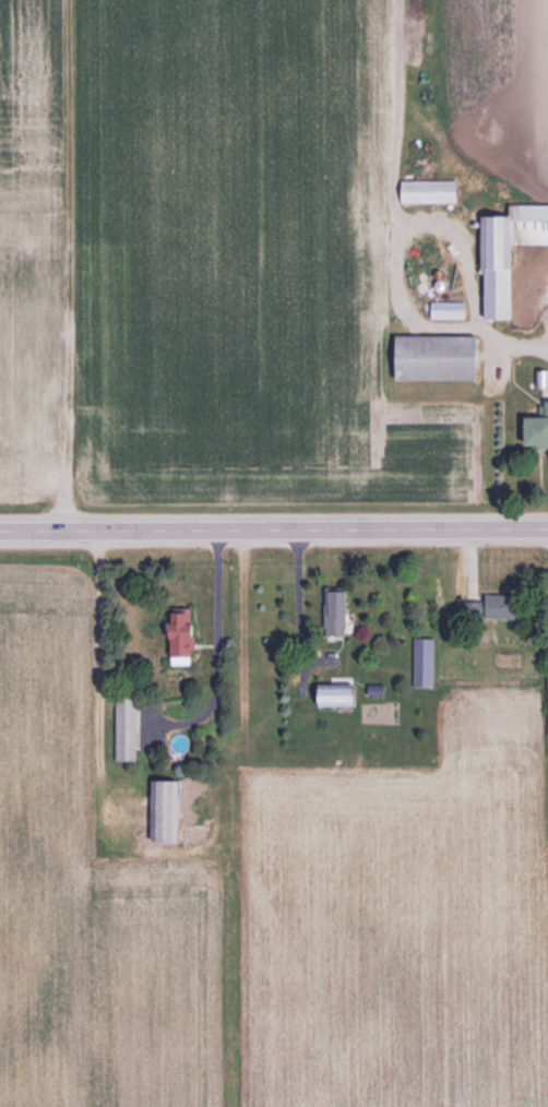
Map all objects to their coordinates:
building: (422, 13)
building: (433, 191)
building: (512, 254)
building: (451, 311)
building: (444, 358)
building: (537, 433)
road: (273, 528)
road: (291, 599)
building: (501, 607)
building: (189, 639)
building: (427, 663)
building: (346, 694)
building: (129, 728)
building: (171, 811)

